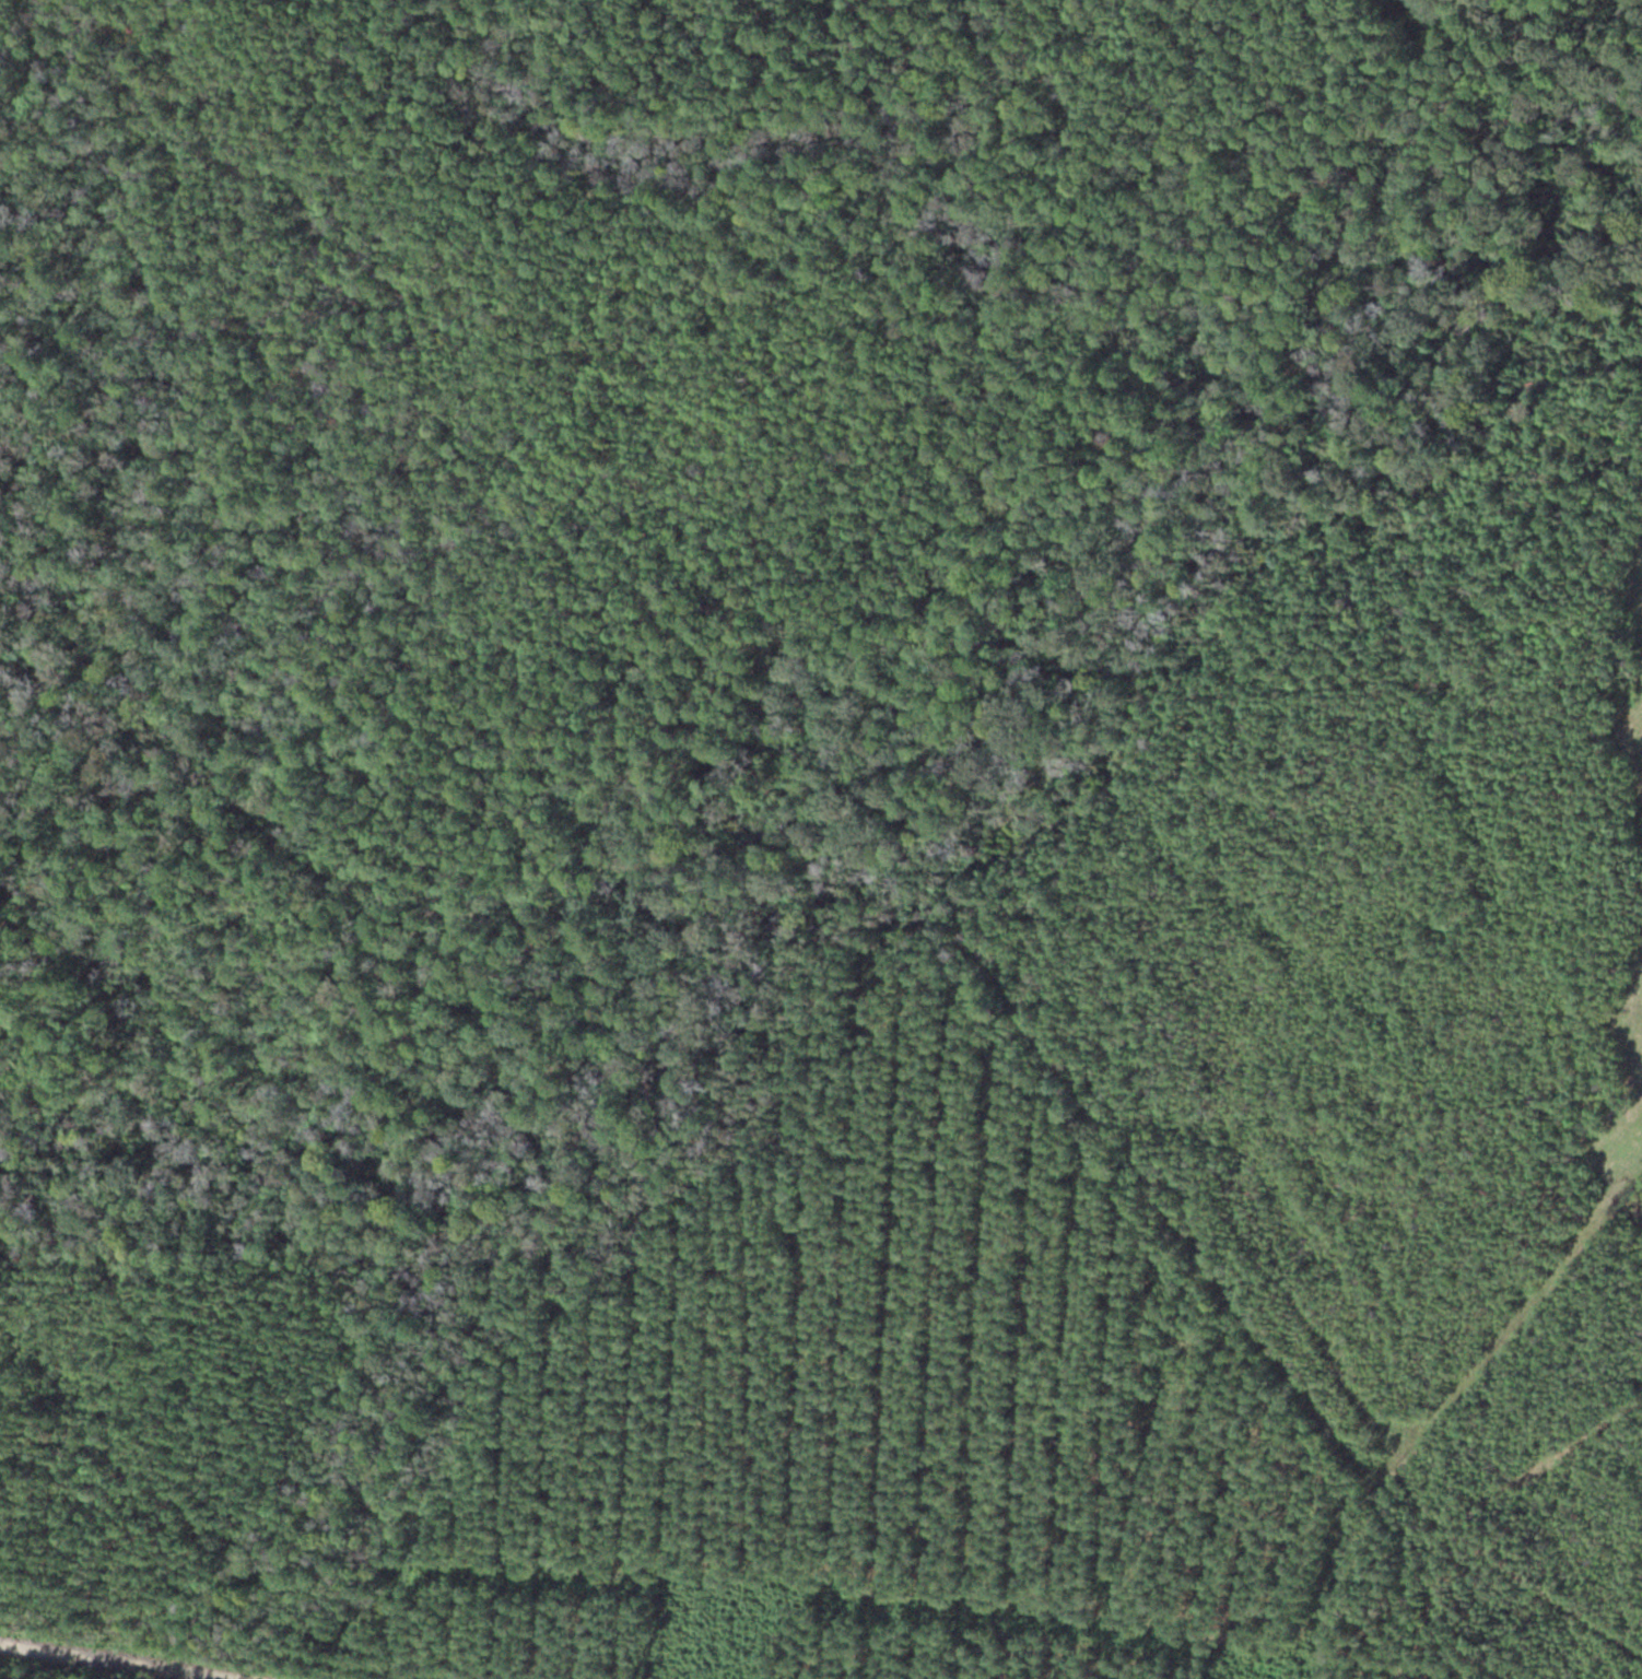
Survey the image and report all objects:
road: (107, 1660)

